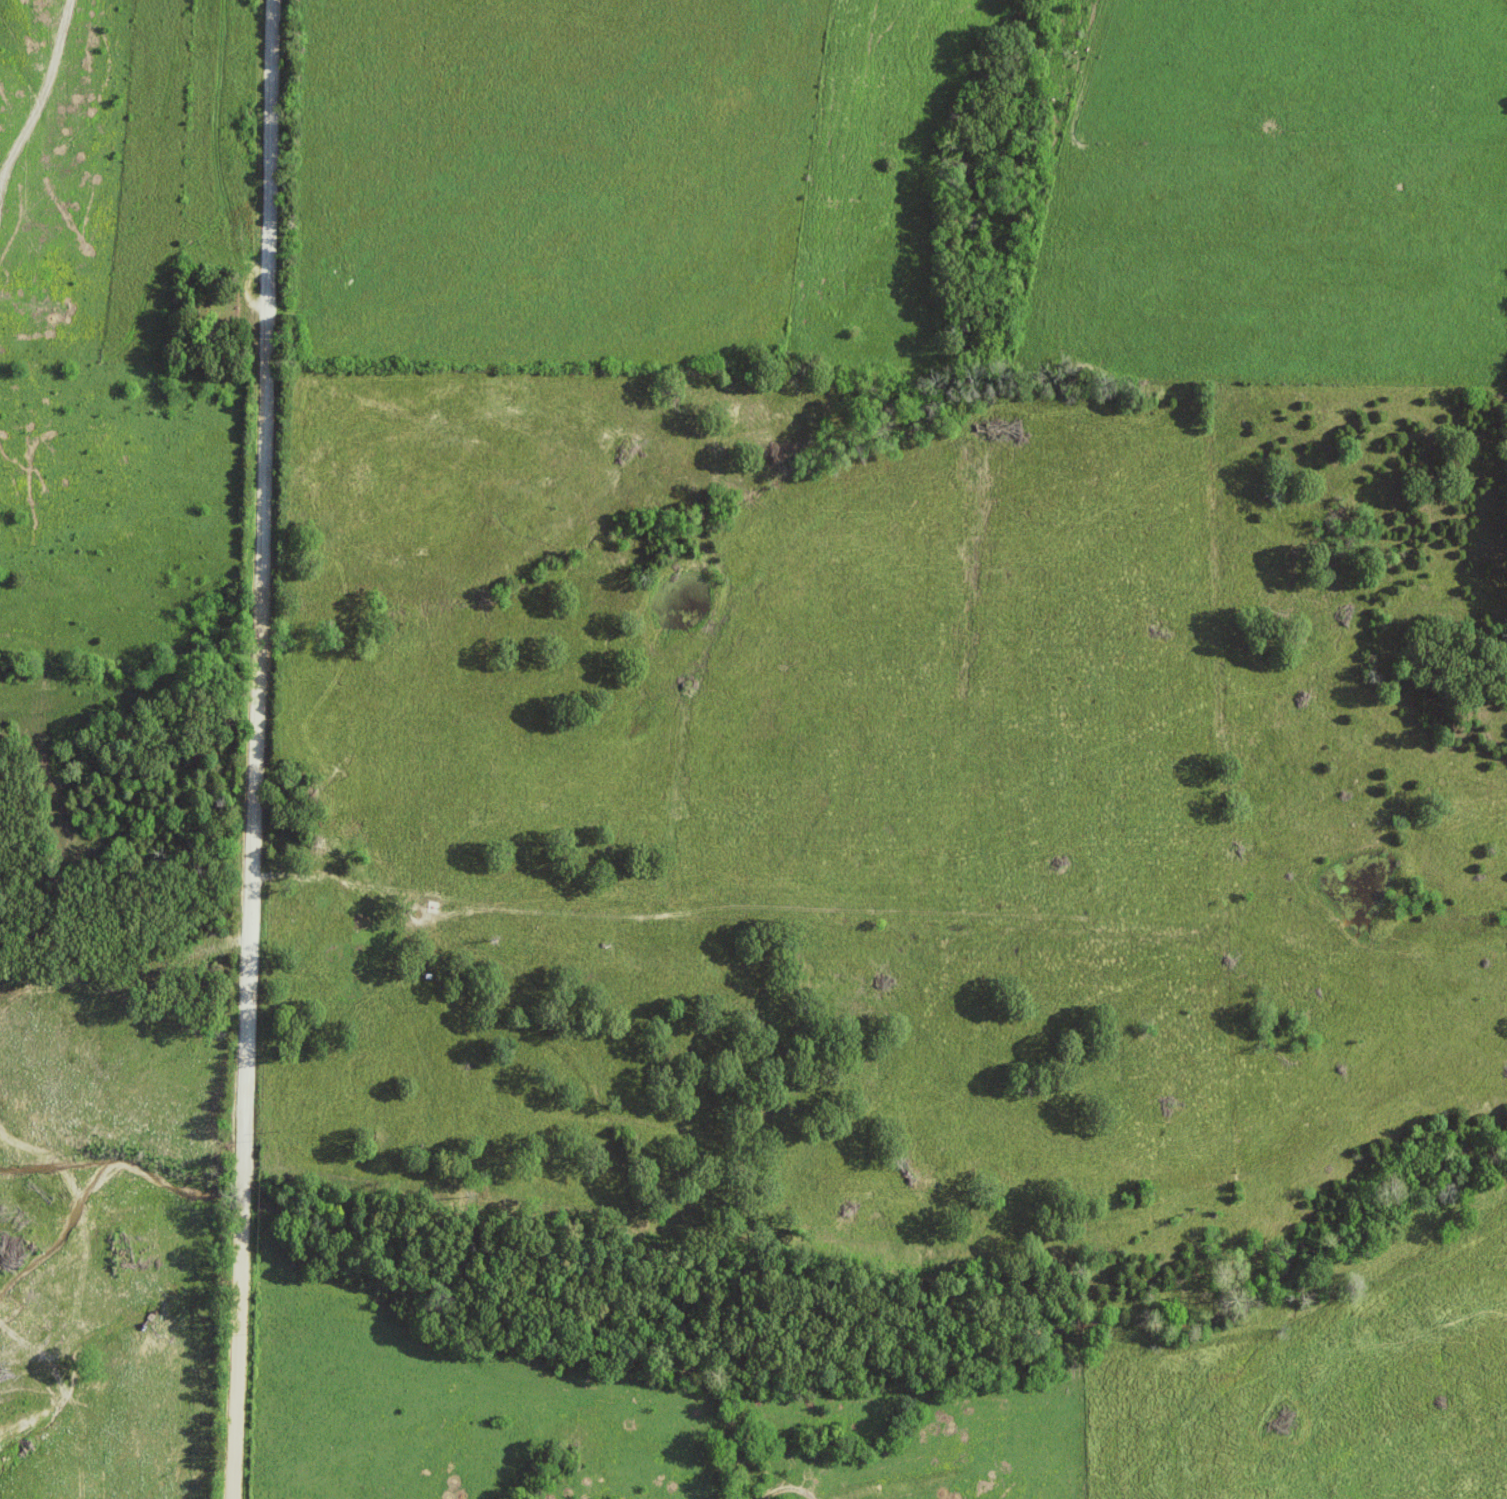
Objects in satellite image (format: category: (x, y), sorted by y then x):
park: (213, 319)
road: (259, 749)

